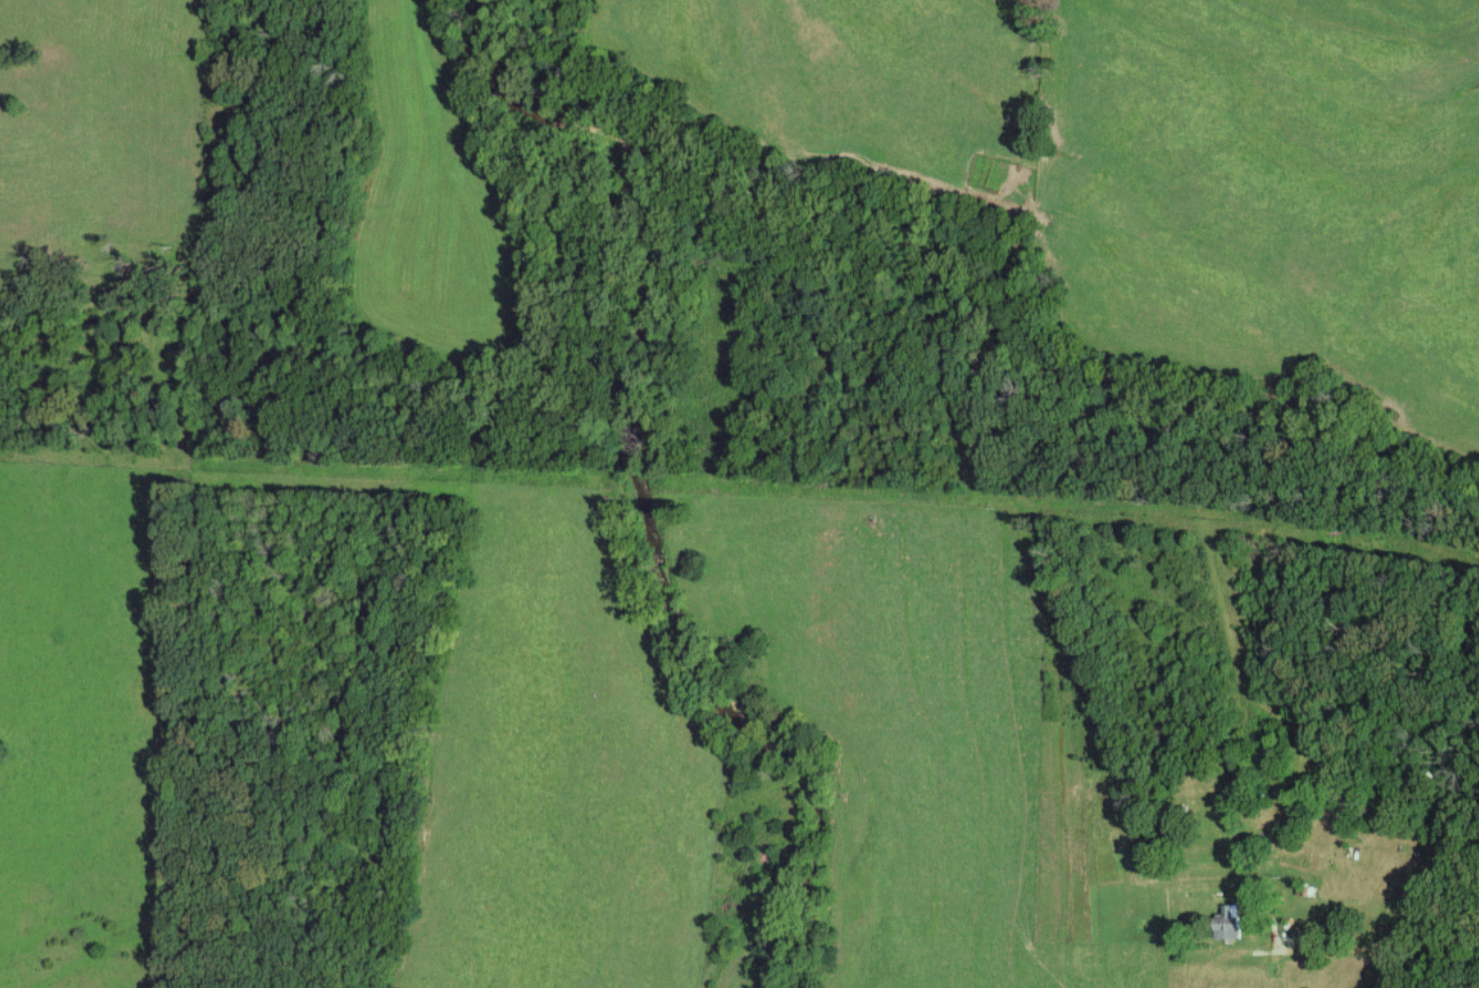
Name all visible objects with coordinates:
building: (1181, 812)
building: (1228, 923)
road: (1357, 952)

